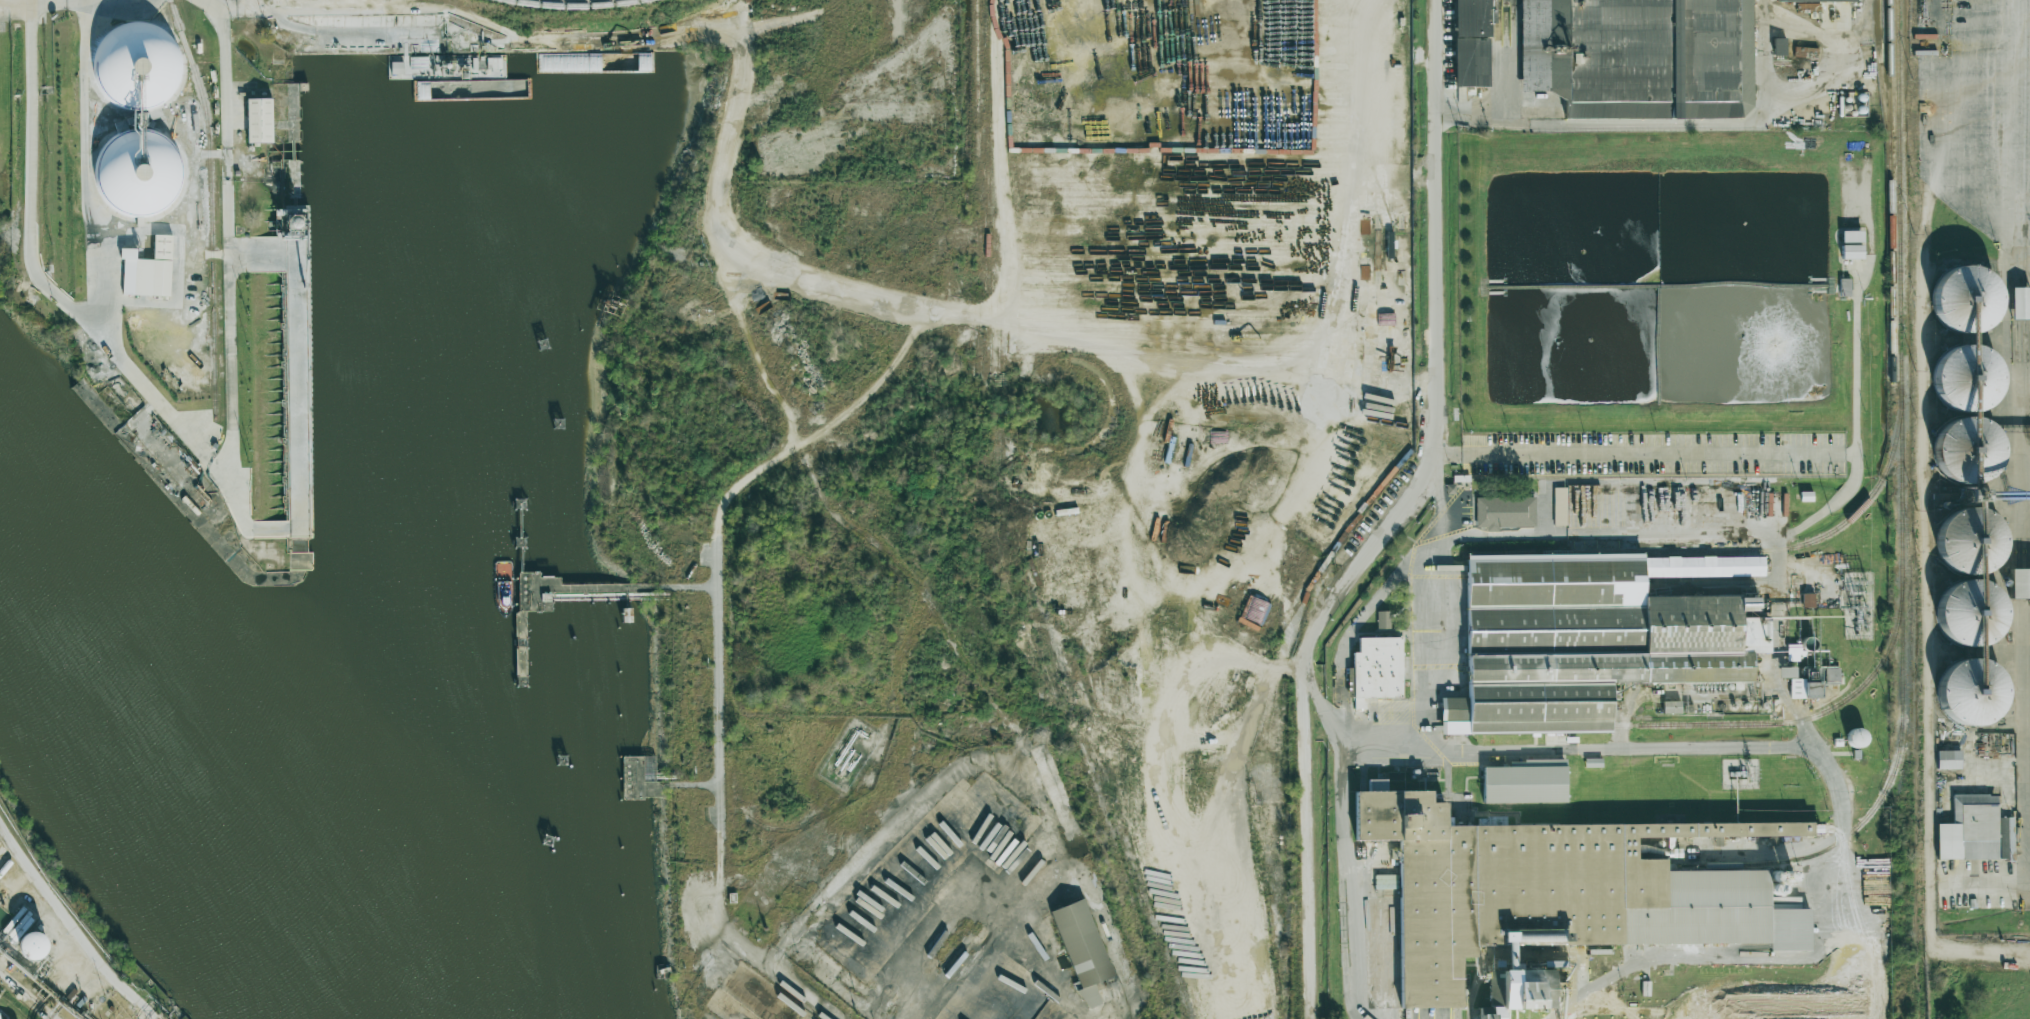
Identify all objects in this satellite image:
road: (78, 1)
building: (1812, 1)
road: (15, 3)
road: (218, 4)
road: (91, 5)
railway: (573, 5)
road: (235, 7)
road: (281, 21)
building: (1472, 43)
building: (1779, 46)
railway: (1889, 68)
railway: (977, 90)
building: (138, 119)
building: (259, 120)
road: (1636, 122)
railway: (1890, 189)
railway: (1899, 195)
railway: (209, 206)
road: (227, 232)
road: (2022, 236)
building: (1851, 244)
building: (148, 270)
building: (1844, 287)
road: (52, 291)
building: (1966, 299)
building: (2020, 303)
road: (1647, 453)
road: (776, 459)
road: (2026, 478)
road: (1439, 499)
building: (1560, 506)
building: (1505, 512)
road: (1393, 516)
road: (1506, 533)
railway: (1727, 551)
building: (1971, 577)
building: (2019, 583)
pier: (523, 593)
pier: (589, 599)
building: (1808, 600)
building: (1383, 619)
building: (1590, 637)
road: (1779, 647)
road: (1428, 649)
building: (1376, 669)
road: (2024, 669)
building: (1786, 672)
building: (1813, 682)
building: (1970, 691)
building: (1671, 707)
railway: (1902, 708)
road: (1321, 709)
railway: (1798, 720)
railway: (1582, 725)
road: (1621, 748)
road: (1385, 751)
building: (1948, 759)
river: (209, 772)
building: (1525, 782)
building: (1975, 830)
storage tank: (5, 868)
road: (1844, 886)
building: (1551, 901)
road: (72, 927)
building: (34, 945)
storage tank: (34, 945)
building: (1082, 948)
road: (1735, 958)
road: (28, 995)

